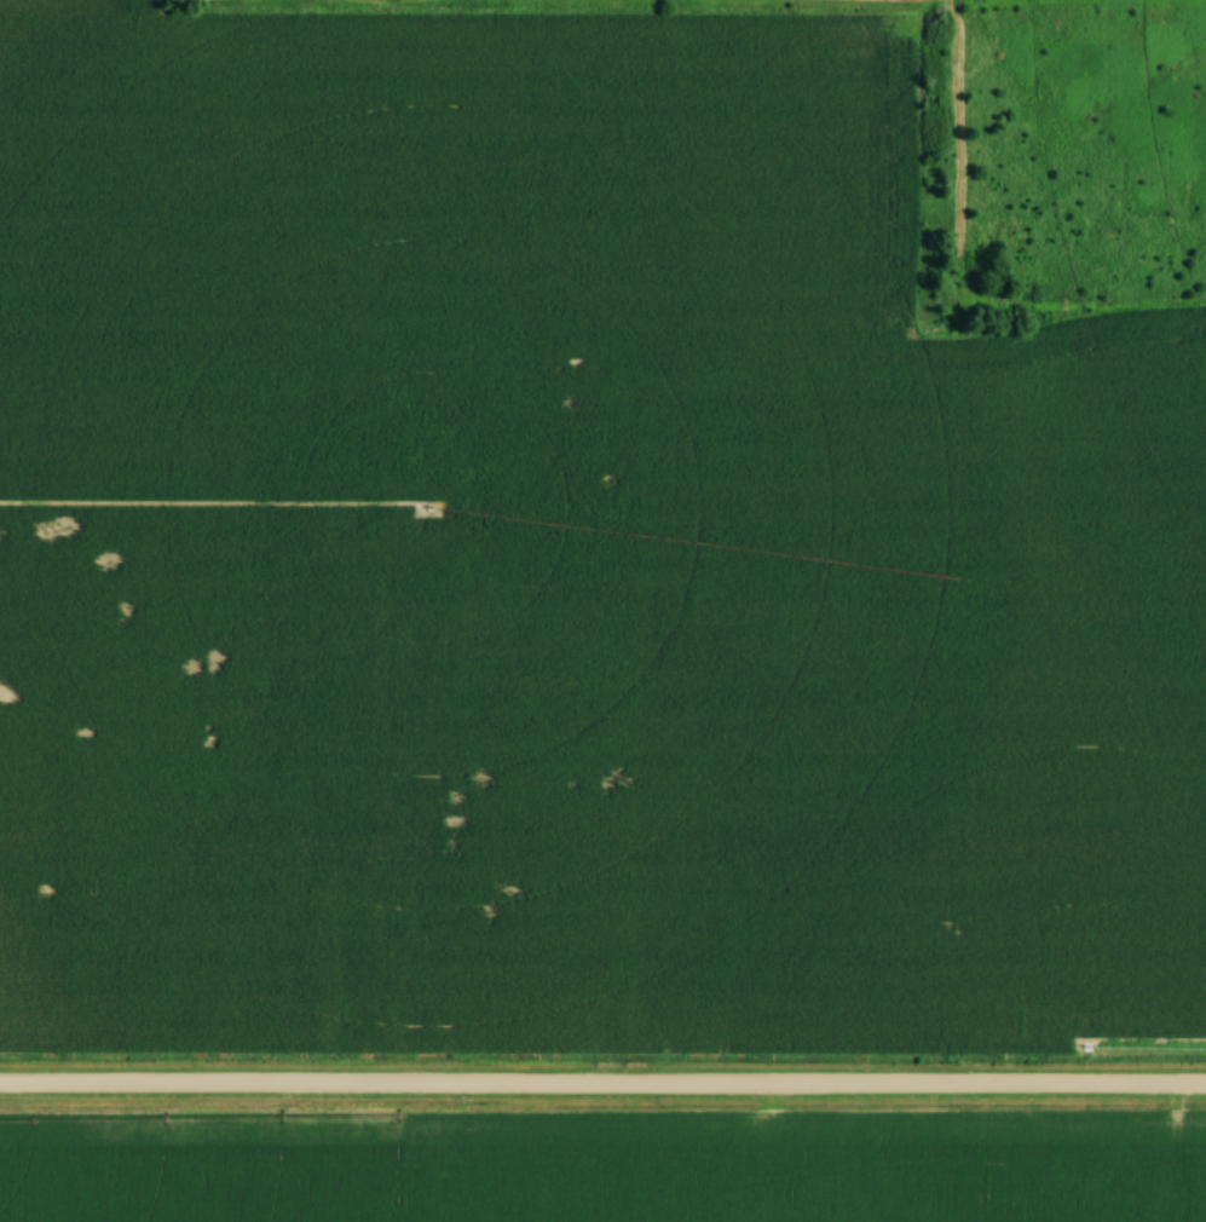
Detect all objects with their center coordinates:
road: (602, 1088)

